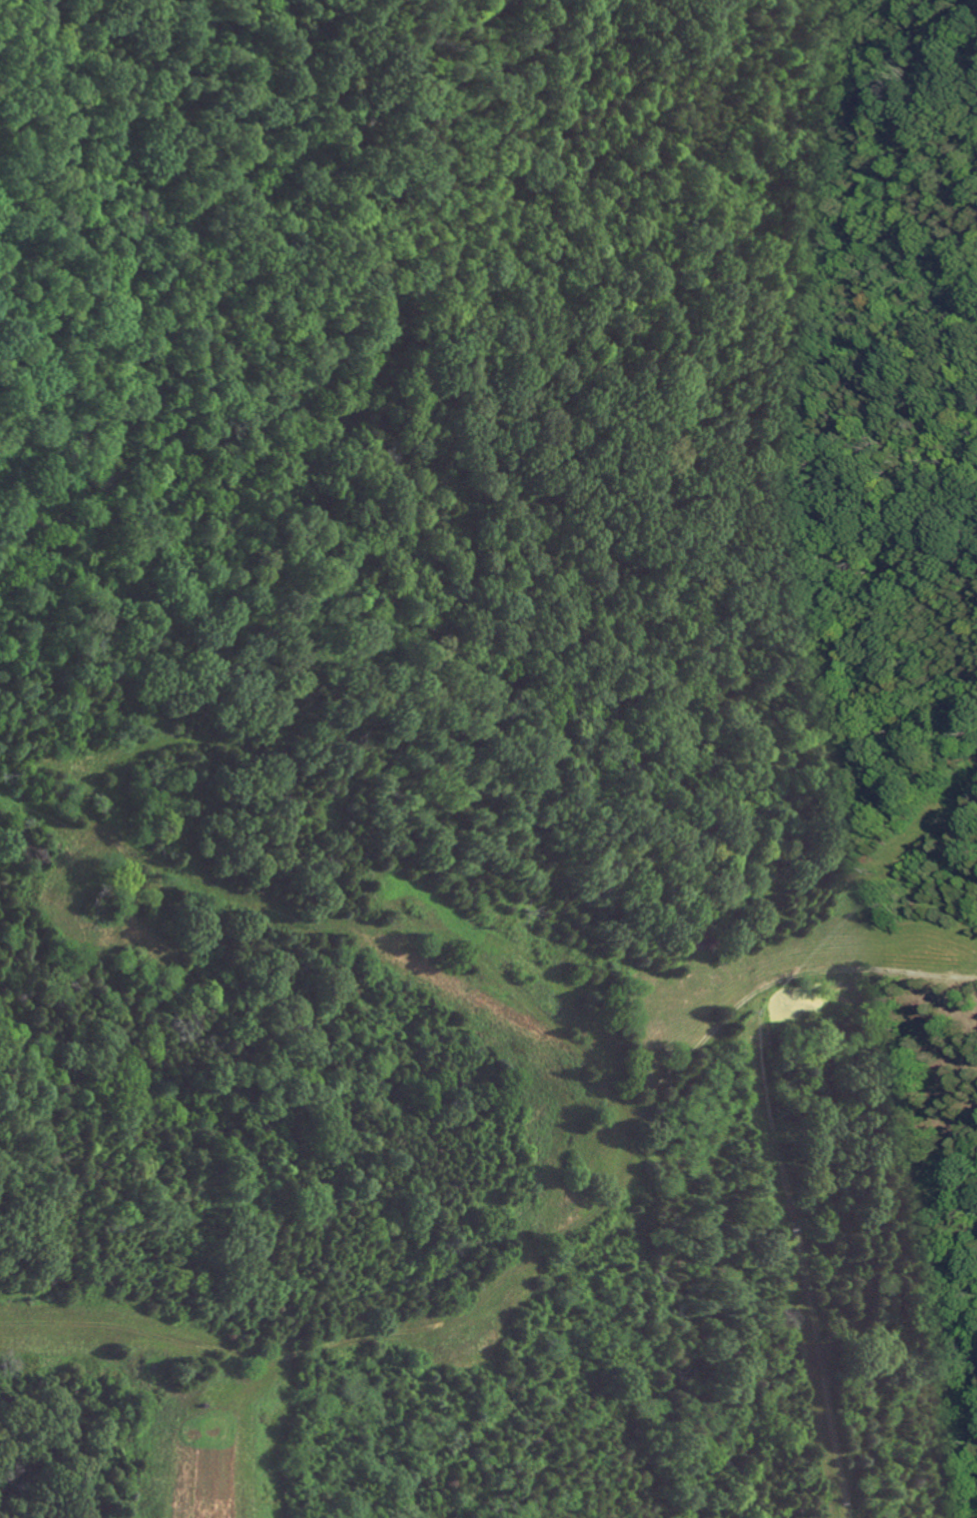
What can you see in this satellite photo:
road: (699, 1031)

